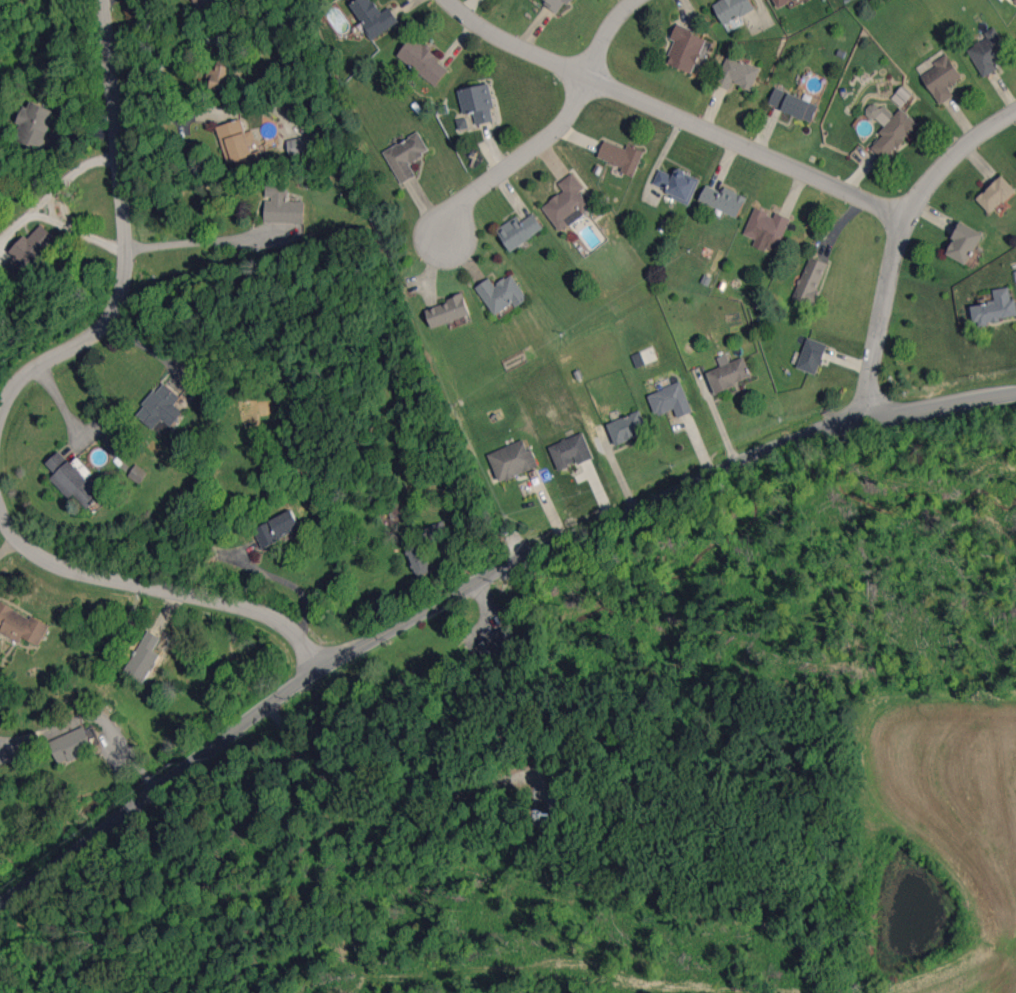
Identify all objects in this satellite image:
building: (1014, 1)
building: (781, 2)
building: (557, 4)
building: (207, 5)
building: (733, 9)
building: (374, 17)
building: (685, 48)
building: (988, 52)
building: (423, 61)
road: (156, 67)
building: (737, 73)
building: (218, 77)
building: (941, 78)
building: (901, 96)
building: (477, 102)
building: (793, 104)
road: (676, 114)
road: (166, 118)
building: (34, 124)
building: (890, 129)
road: (545, 138)
building: (236, 143)
building: (303, 145)
building: (406, 156)
building: (621, 156)
building: (676, 184)
building: (995, 194)
building: (724, 200)
building: (567, 203)
road: (63, 204)
building: (282, 206)
building: (766, 228)
building: (519, 230)
road: (124, 232)
road: (194, 243)
building: (963, 243)
road: (900, 244)
building: (29, 252)
building: (810, 280)
building: (501, 293)
building: (995, 307)
building: (449, 310)
building: (812, 355)
building: (728, 373)
building: (670, 400)
building: (161, 407)
building: (628, 427)
building: (571, 451)
building: (512, 460)
building: (138, 473)
building: (74, 478)
building: (276, 528)
building: (417, 558)
road: (475, 582)
road: (291, 585)
road: (160, 588)
road: (167, 610)
building: (21, 625)
building: (497, 647)
building: (143, 658)
building: (71, 745)
road: (395, 796)
building: (554, 797)

